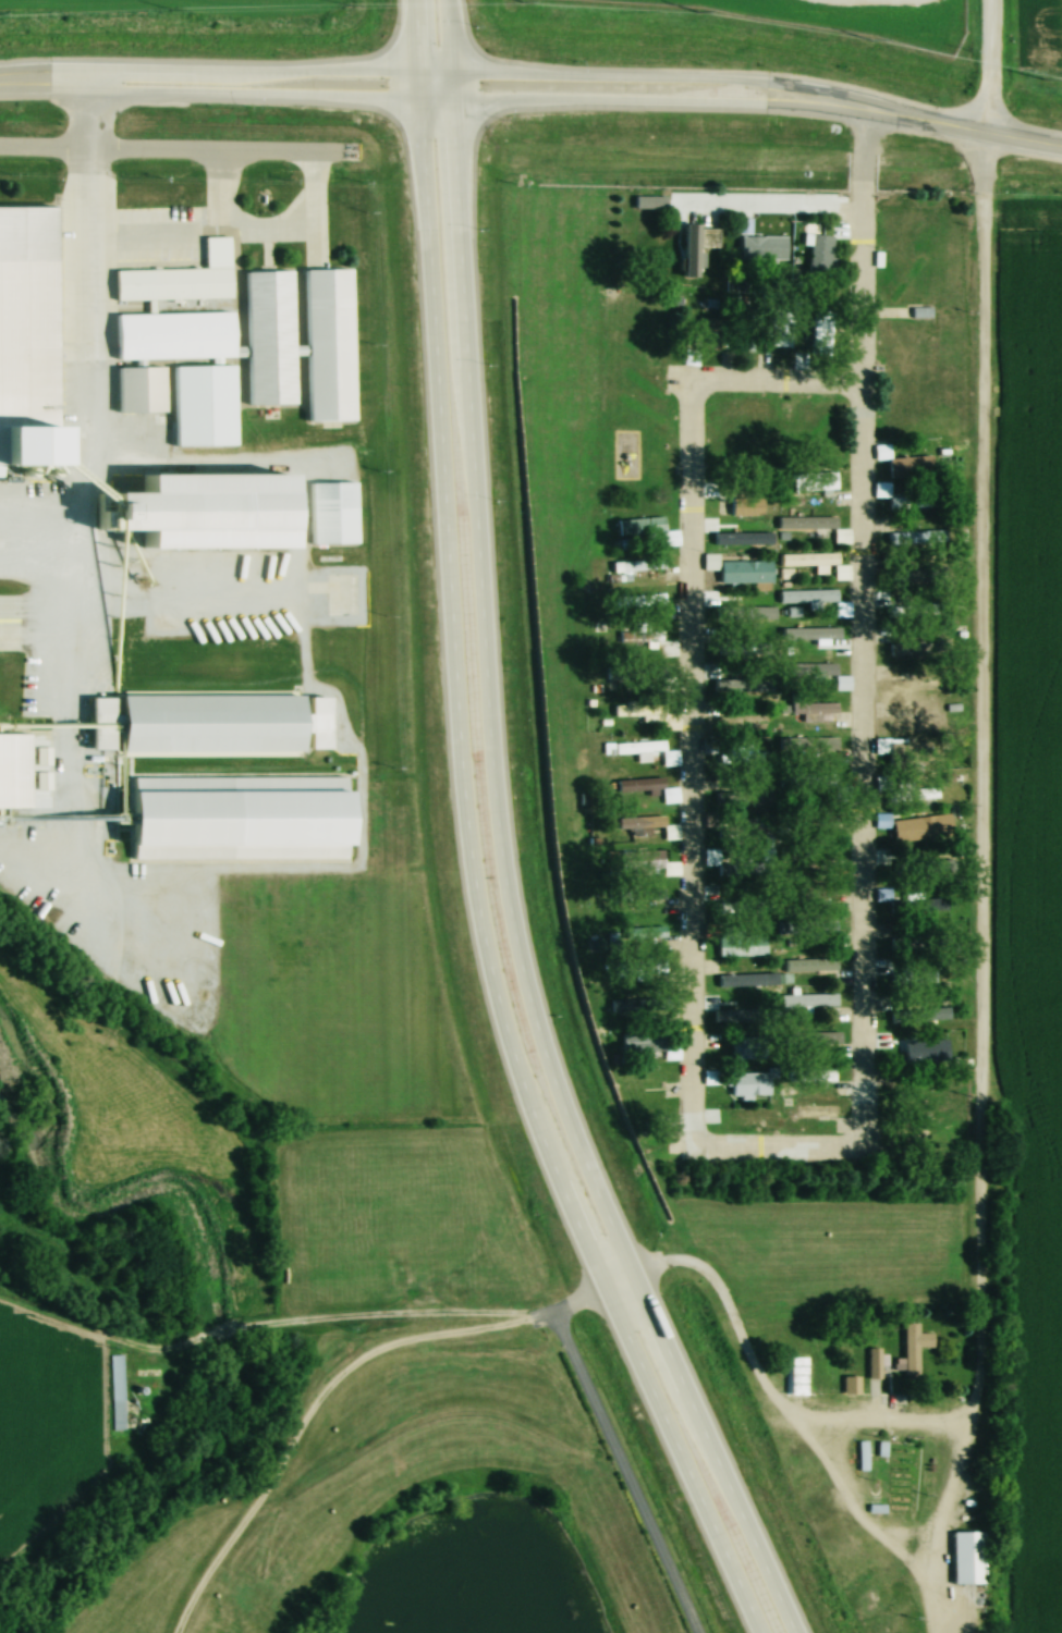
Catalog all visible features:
crop: (832, 15)
crop: (1046, 36)
road: (273, 56)
road: (991, 60)
road: (636, 61)
road: (42, 67)
road: (254, 83)
road: (444, 88)
road: (637, 90)
road: (935, 107)
road: (760, 209)
road: (856, 237)
building: (694, 247)
building: (761, 249)
building: (818, 259)
building: (171, 283)
building: (172, 334)
building: (707, 334)
building: (268, 335)
building: (778, 335)
building: (820, 336)
building: (740, 340)
building: (328, 342)
building: (688, 358)
building: (139, 389)
building: (202, 404)
building: (38, 434)
road: (80, 465)
building: (910, 467)
road: (191, 472)
building: (811, 481)
road: (39, 496)
building: (339, 499)
building: (912, 501)
building: (206, 513)
building: (805, 524)
building: (643, 526)
building: (906, 533)
building: (815, 563)
building: (645, 567)
building: (737, 569)
building: (915, 574)
building: (648, 600)
building: (815, 600)
building: (918, 611)
building: (811, 634)
building: (639, 638)
road: (38, 644)
building: (919, 648)
building: (794, 670)
building: (619, 675)
building: (646, 675)
building: (841, 682)
building: (915, 685)
building: (635, 710)
building: (817, 710)
building: (218, 713)
building: (637, 747)
building: (748, 758)
building: (13, 770)
road: (975, 774)
building: (638, 784)
building: (918, 789)
building: (743, 797)
building: (246, 805)
building: (639, 821)
building: (750, 828)
road: (477, 844)
road: (508, 844)
building: (651, 860)
building: (735, 869)
building: (899, 905)
building: (744, 906)
building: (645, 932)
building: (905, 943)
building: (740, 945)
building: (809, 965)
building: (924, 977)
building: (808, 1000)
building: (635, 1005)
building: (646, 1044)
building: (747, 1046)
building: (911, 1049)
building: (748, 1083)
building: (817, 1110)
road: (684, 1146)
road: (630, 1277)
road: (586, 1298)
building: (911, 1349)
building: (871, 1363)
building: (795, 1375)
building: (846, 1384)
building: (114, 1391)
road: (309, 1402)
crop: (41, 1419)
road: (854, 1423)
building: (860, 1456)
road: (625, 1472)
building: (966, 1557)

